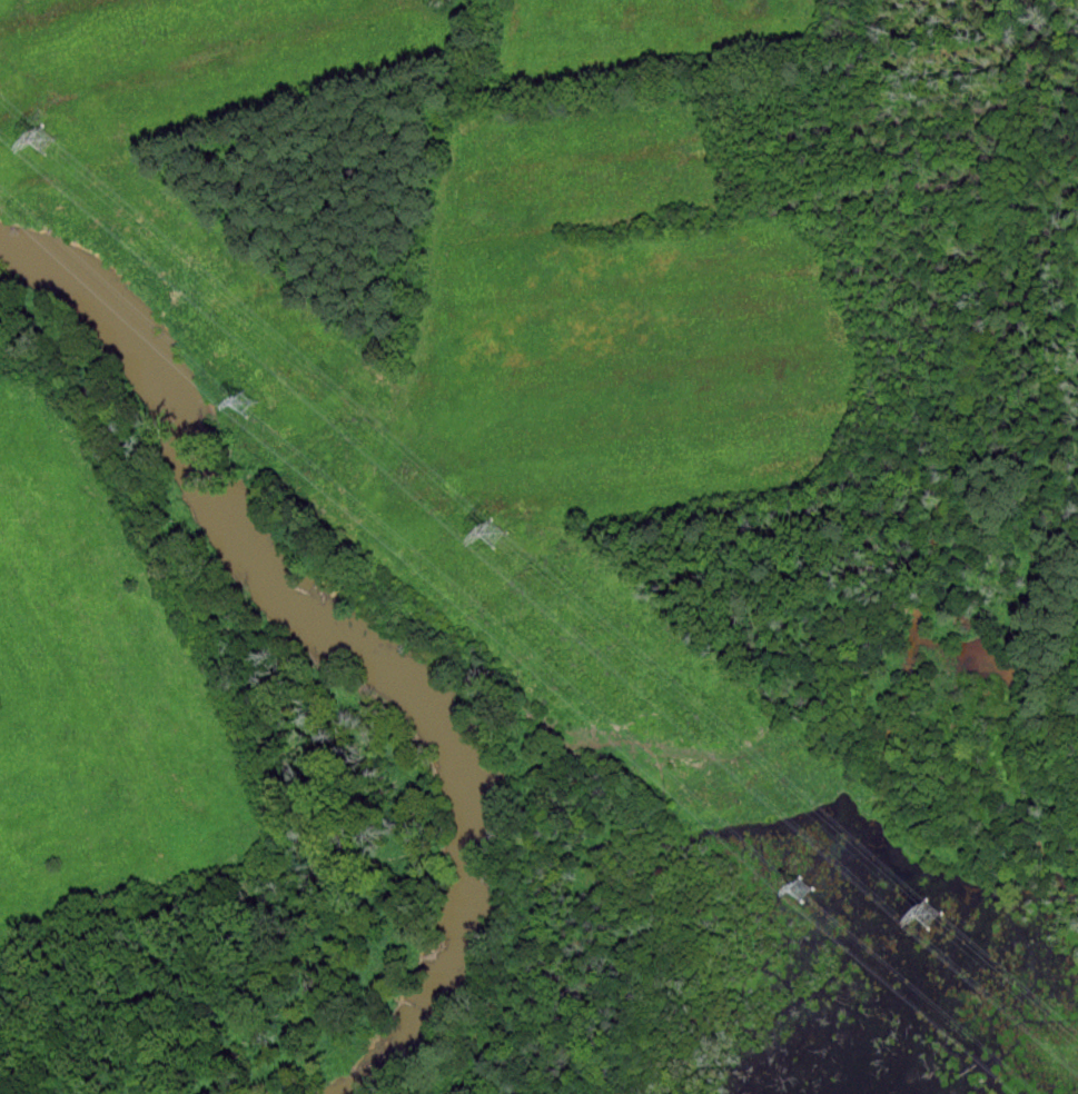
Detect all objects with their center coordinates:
power tower: (44, 139)
power tower: (241, 405)
power tower: (495, 534)
road: (383, 583)
river: (346, 634)
power tower: (803, 893)
power tower: (928, 915)

